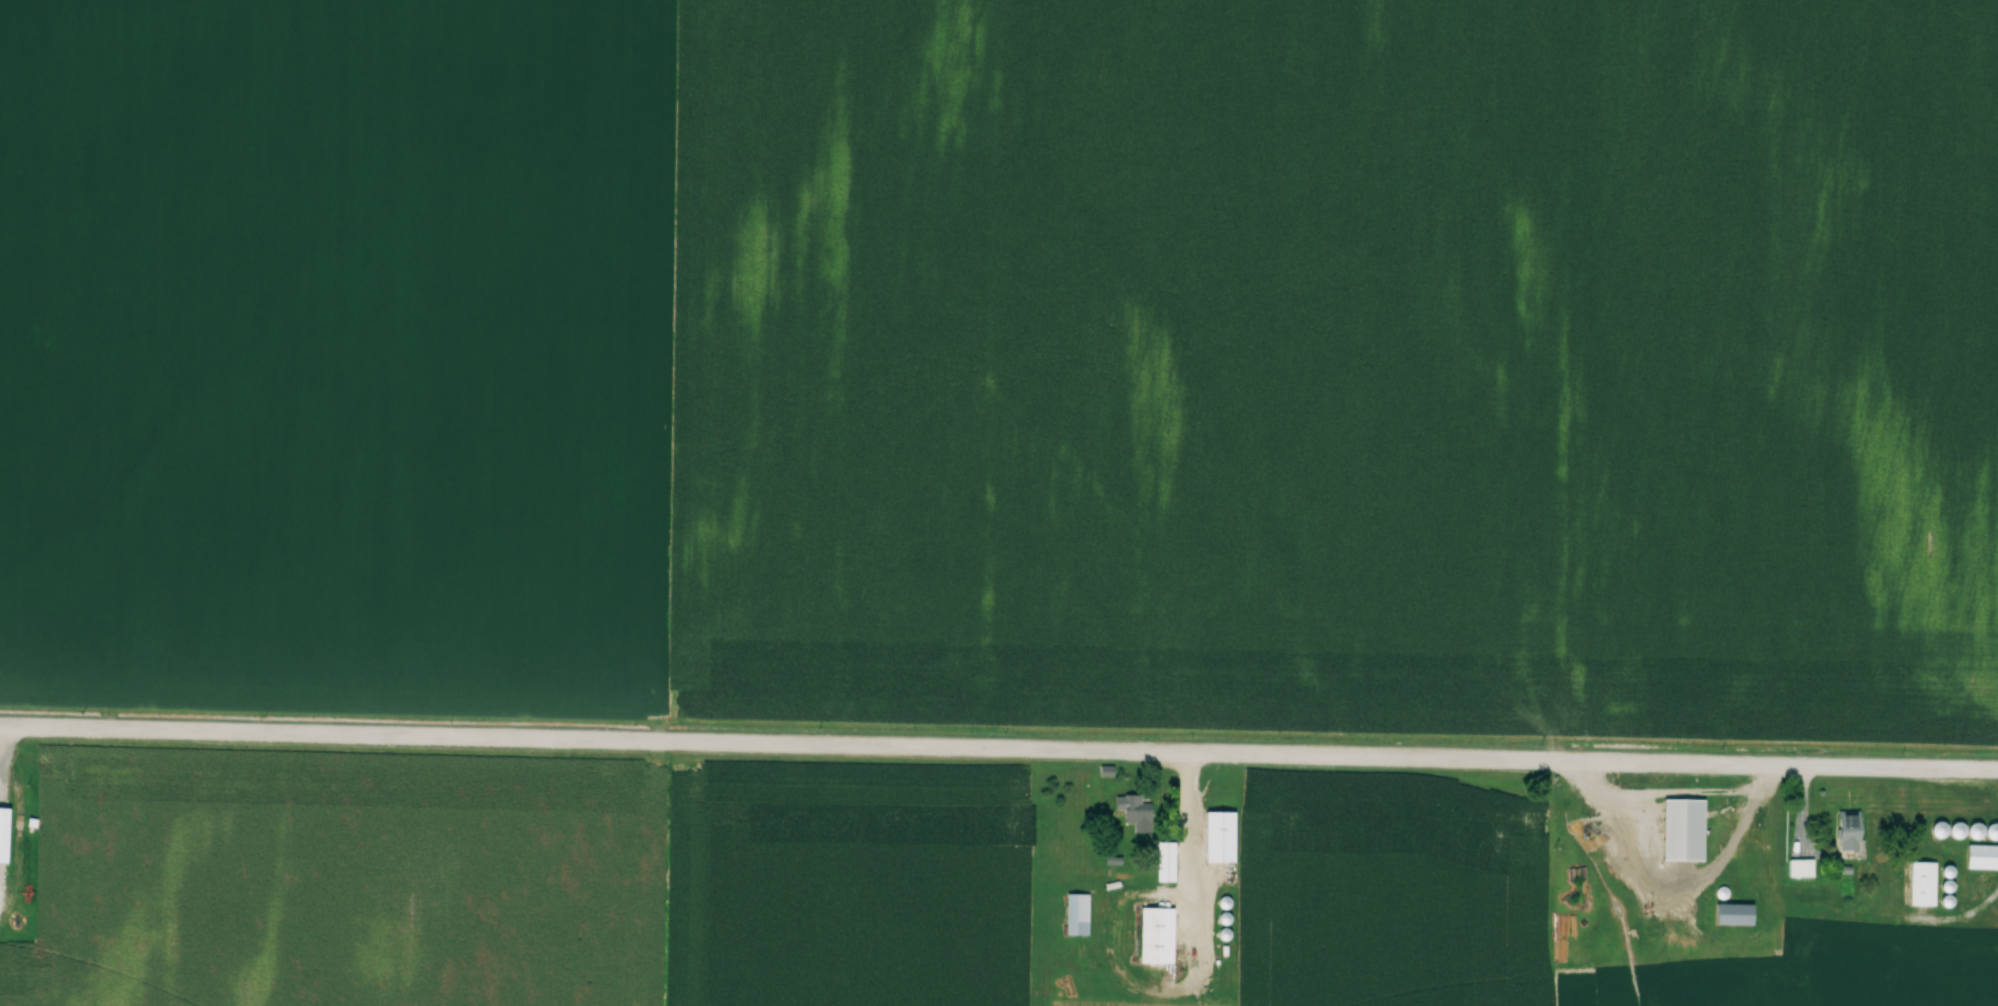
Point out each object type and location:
road: (999, 748)
building: (1131, 809)
building: (1680, 830)
building: (2, 835)
building: (1218, 837)
building: (1164, 855)
building: (1981, 858)
building: (1920, 884)
building: (1737, 912)
building: (1075, 914)
building: (1153, 936)

